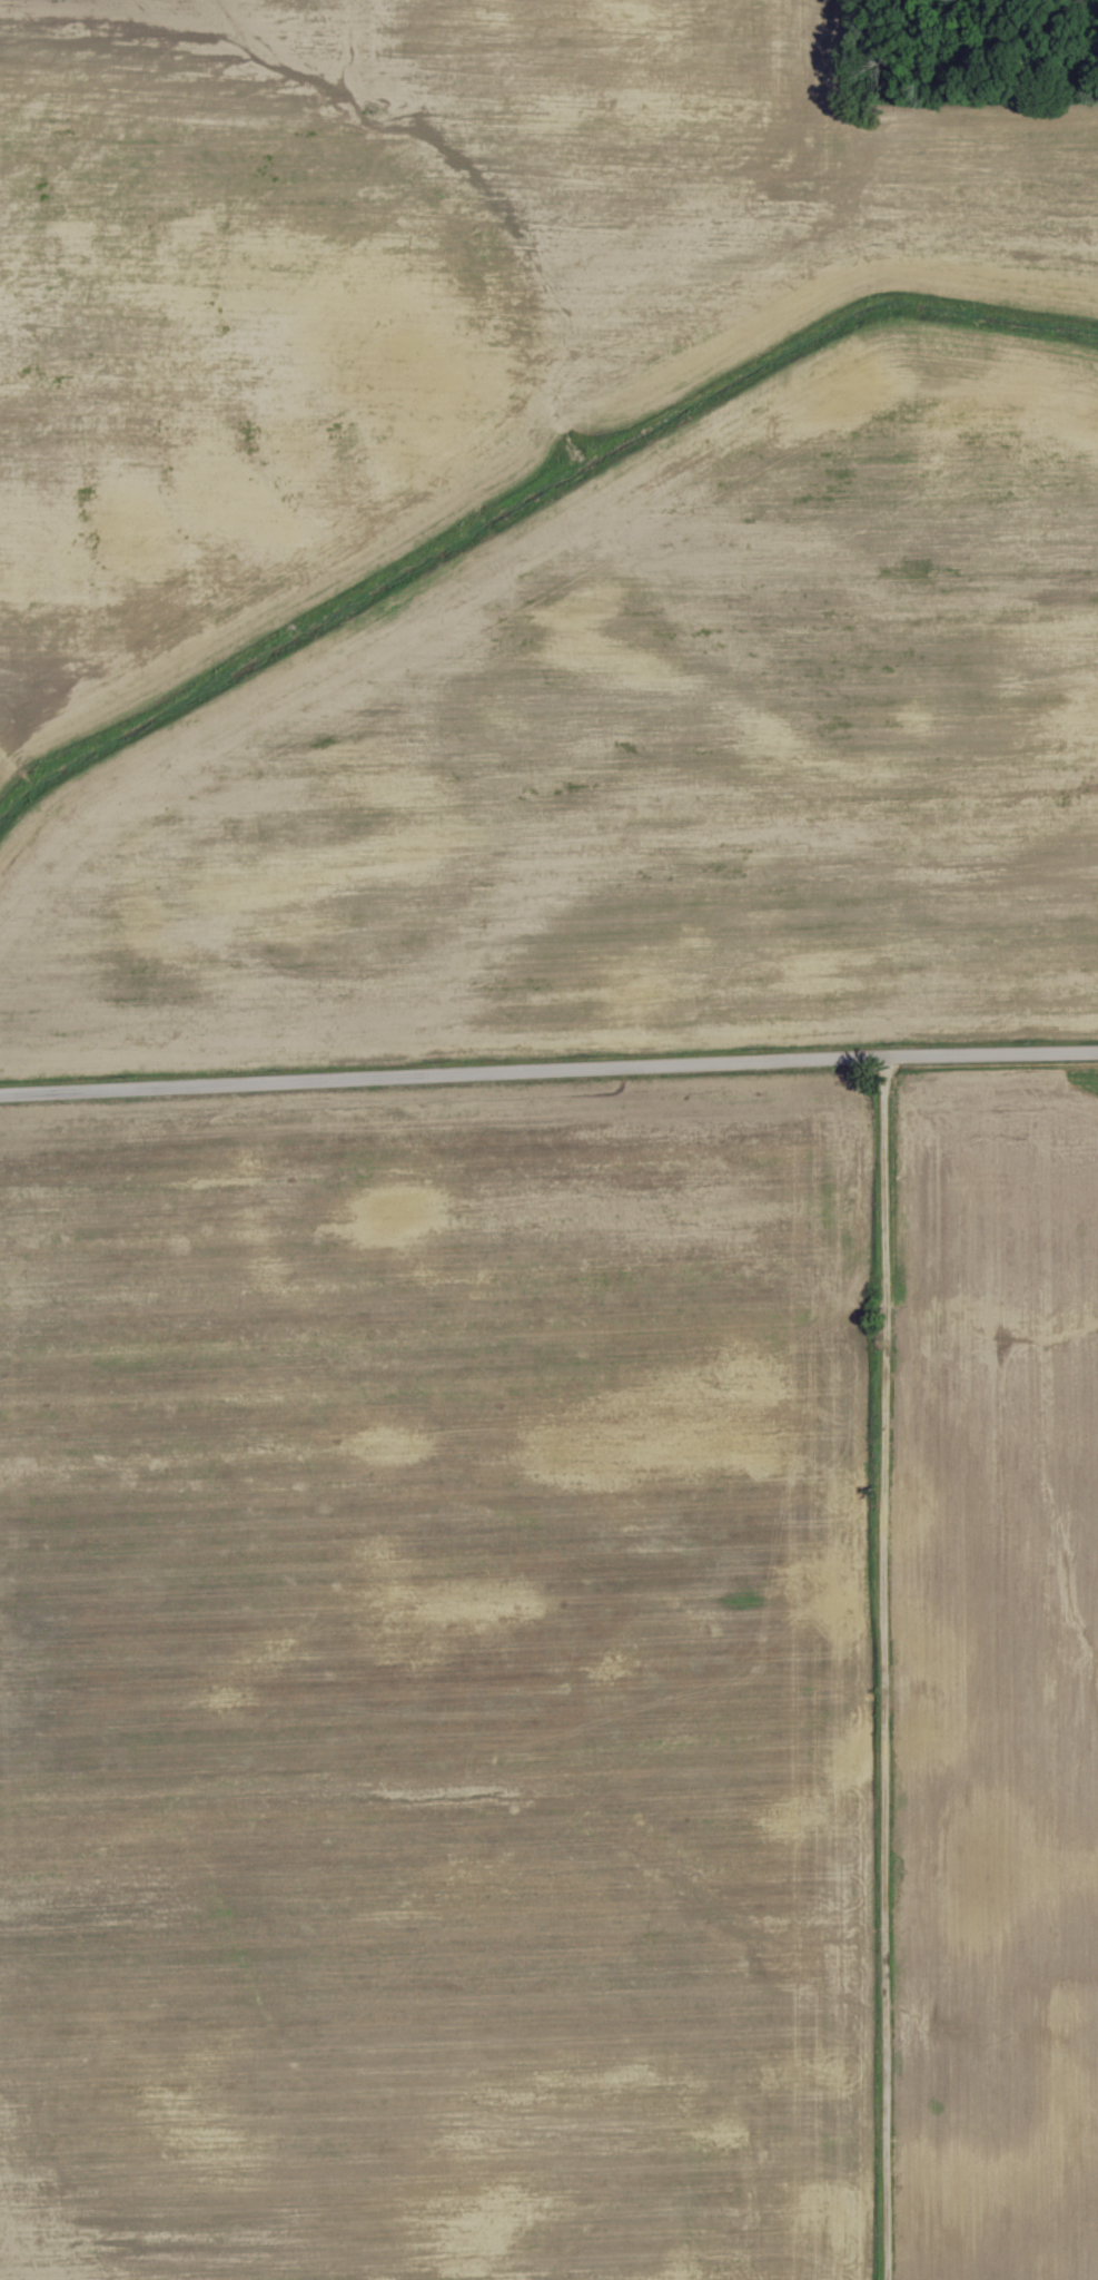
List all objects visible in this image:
road: (548, 1072)
road: (894, 1670)

